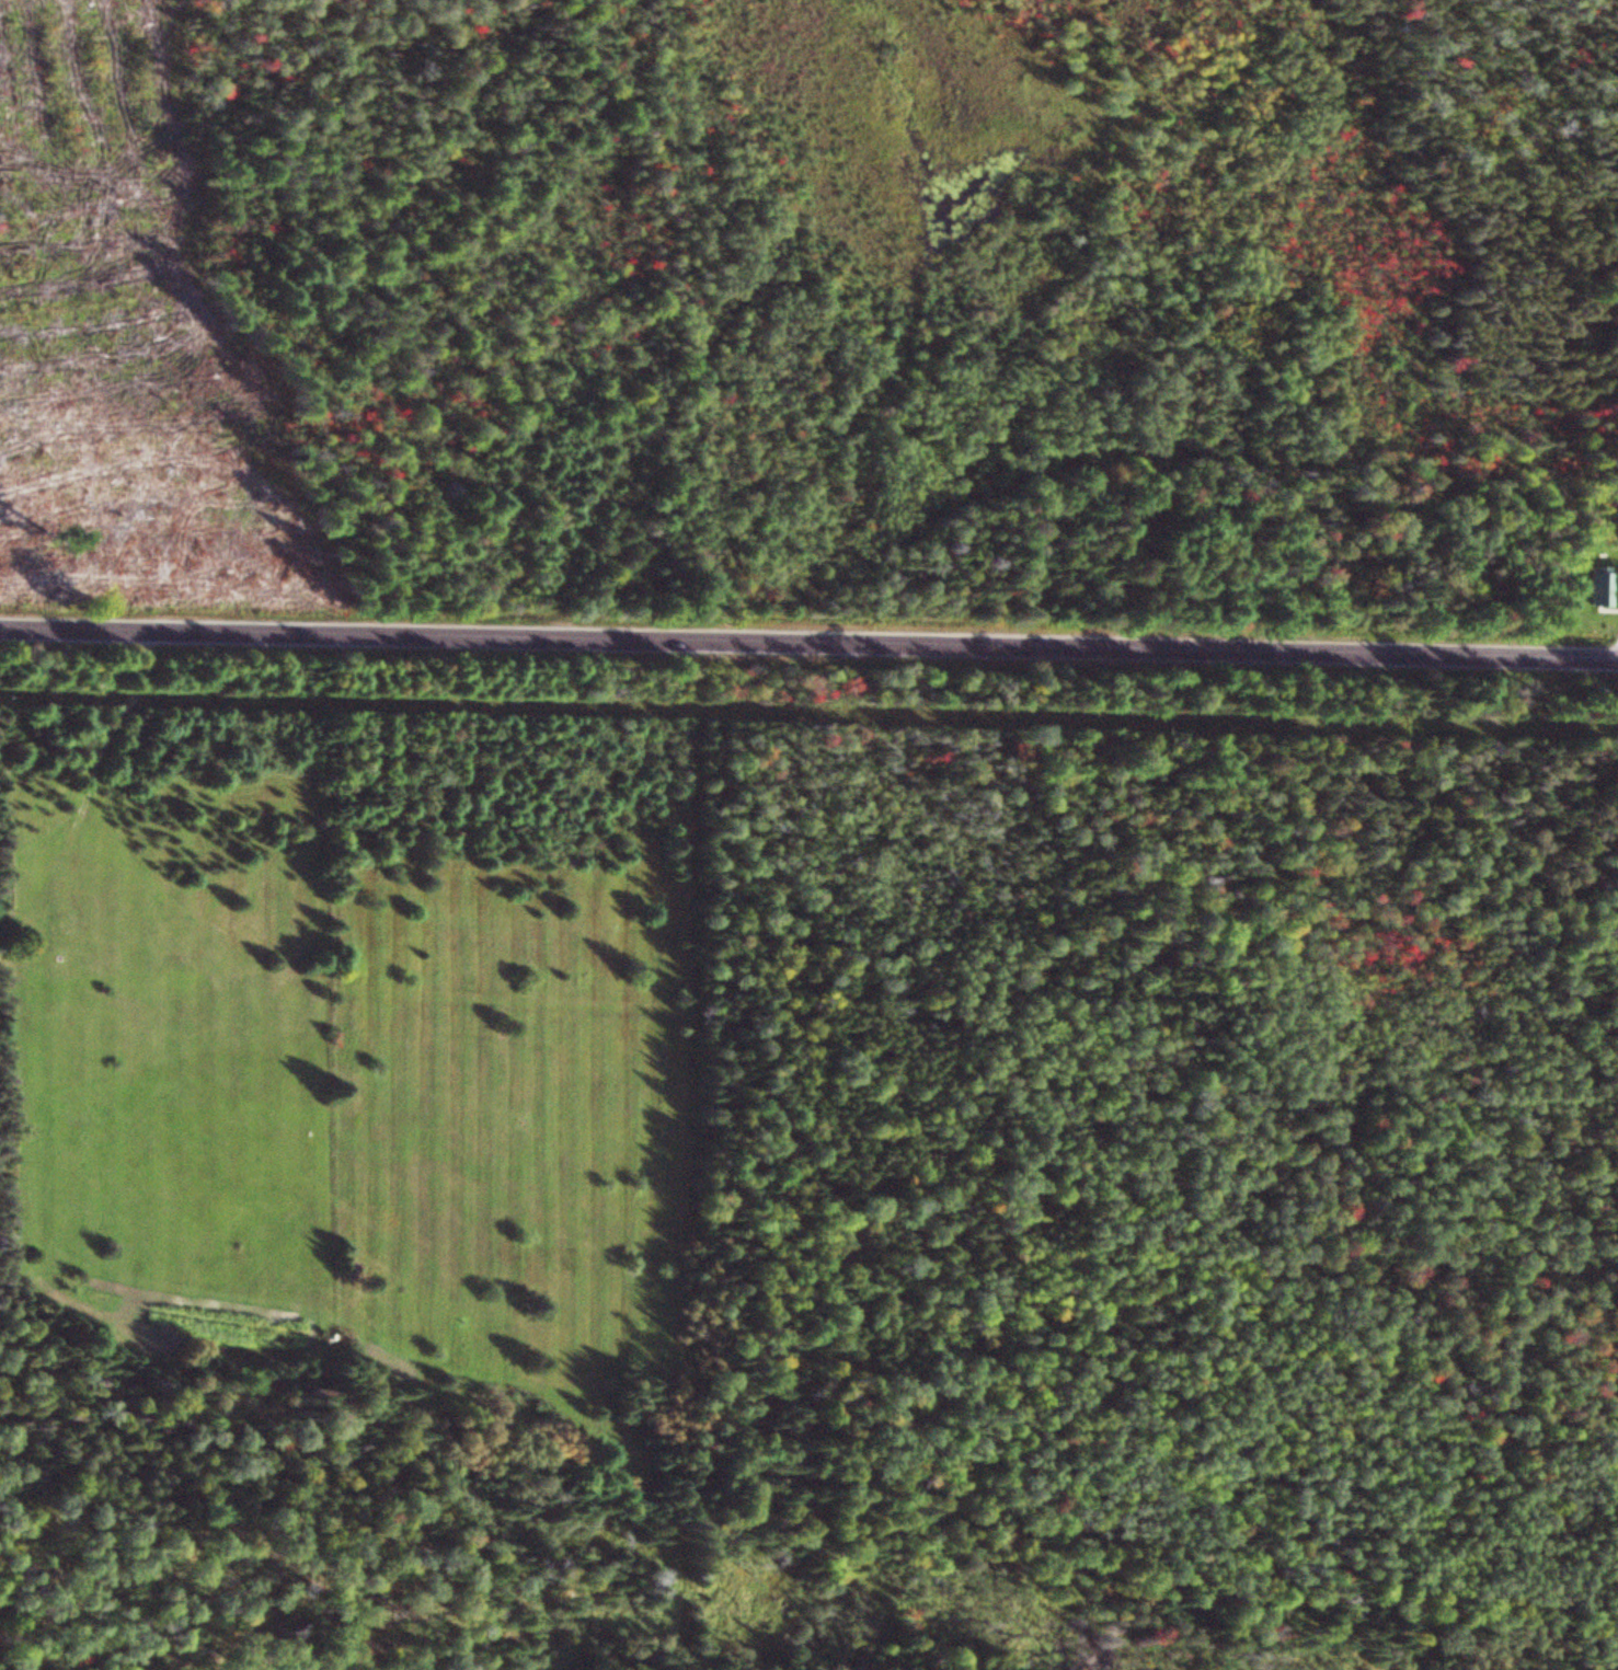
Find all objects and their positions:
building: (1604, 588)
road: (808, 644)

